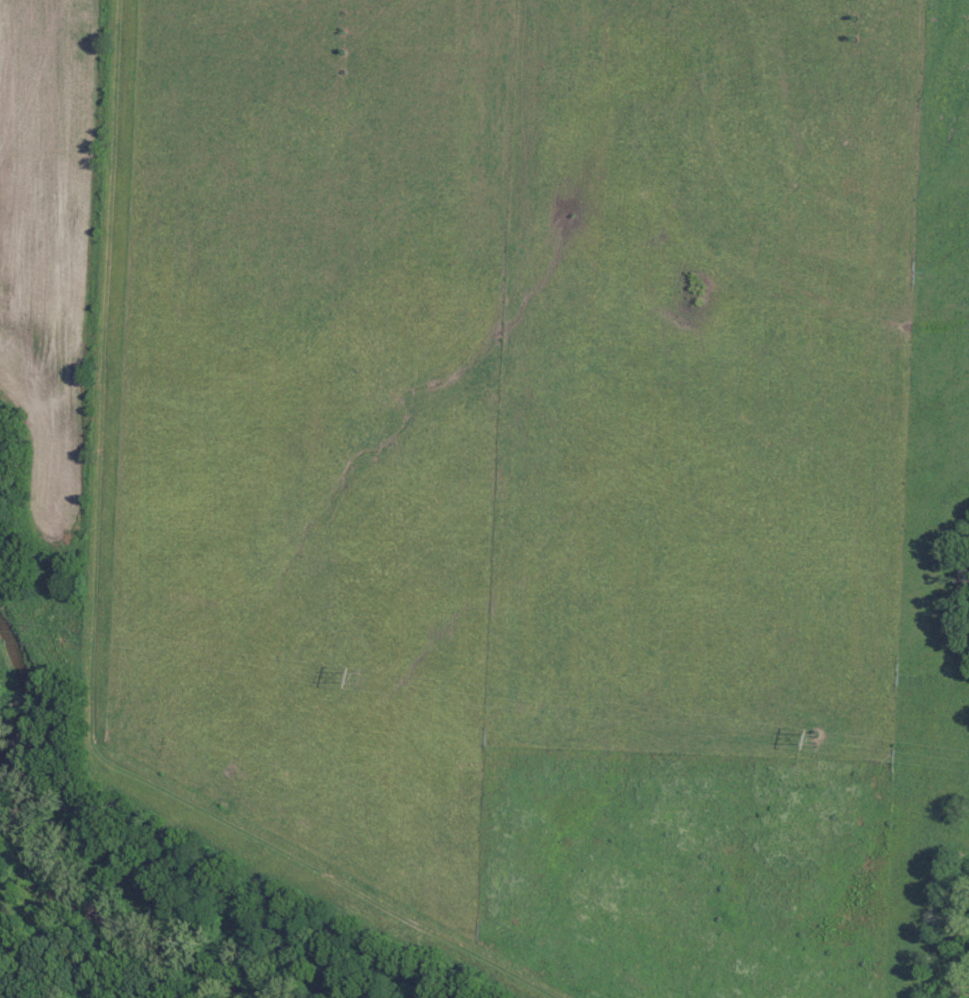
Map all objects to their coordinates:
power tower: (358, 673)
power tower: (817, 737)

